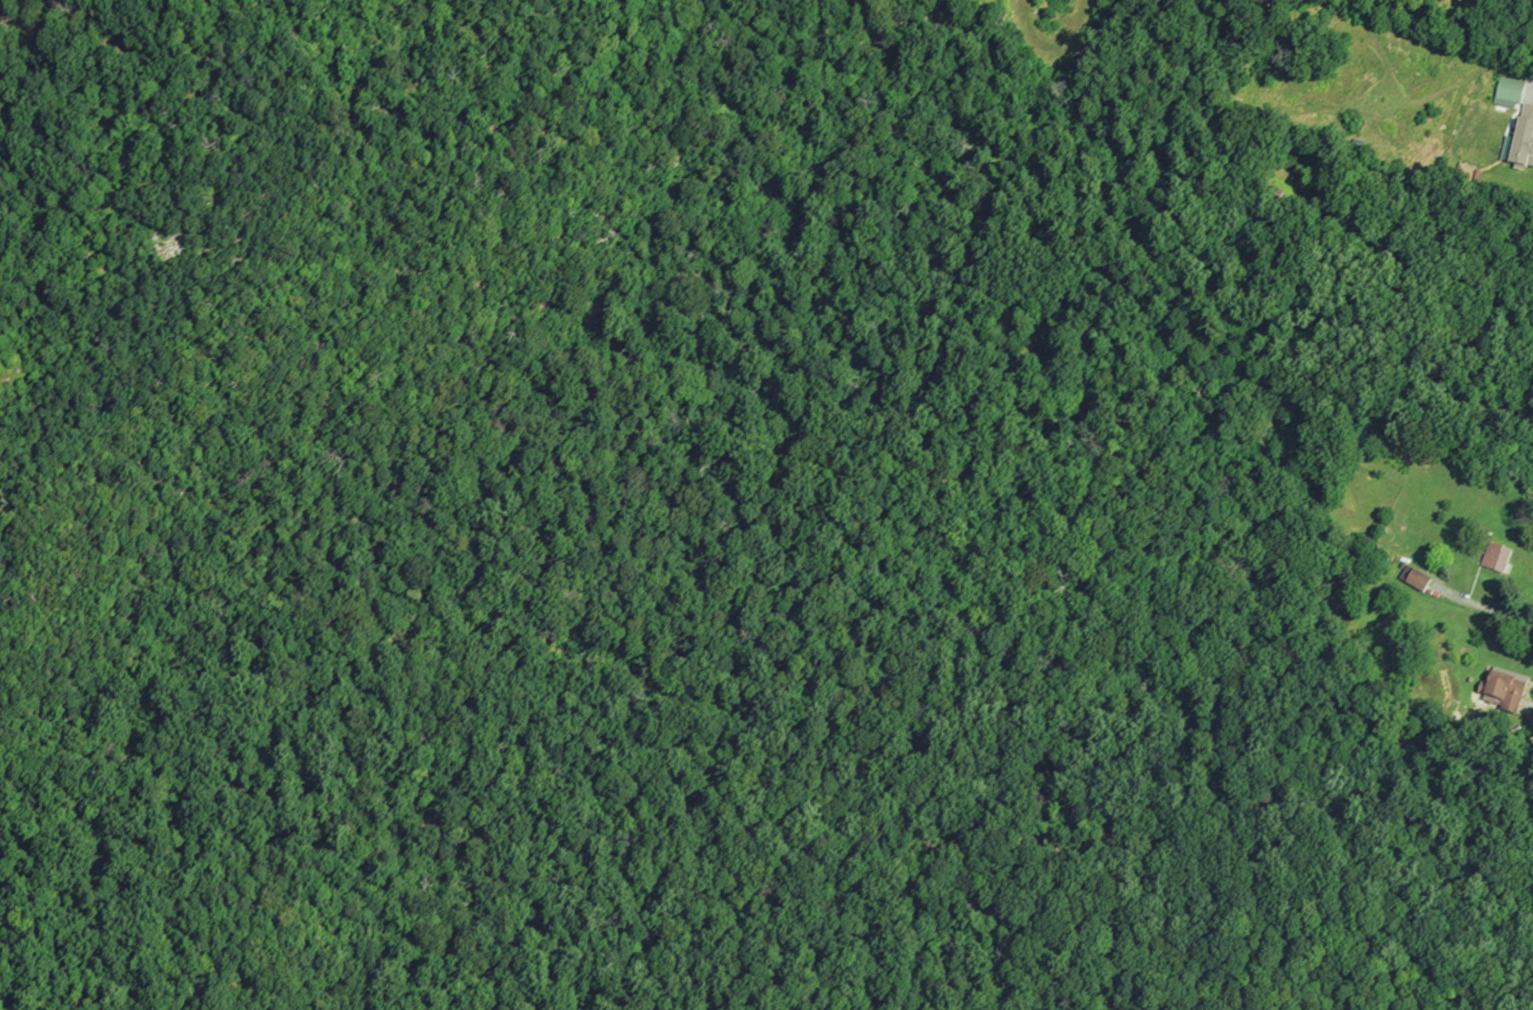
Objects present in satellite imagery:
road: (285, 43)
road: (52, 51)
road: (1522, 74)
building: (1510, 93)
building: (1521, 144)
building: (1497, 560)
building: (1388, 565)
building: (1416, 580)
road: (1483, 607)
building: (1507, 692)
road: (1532, 706)

